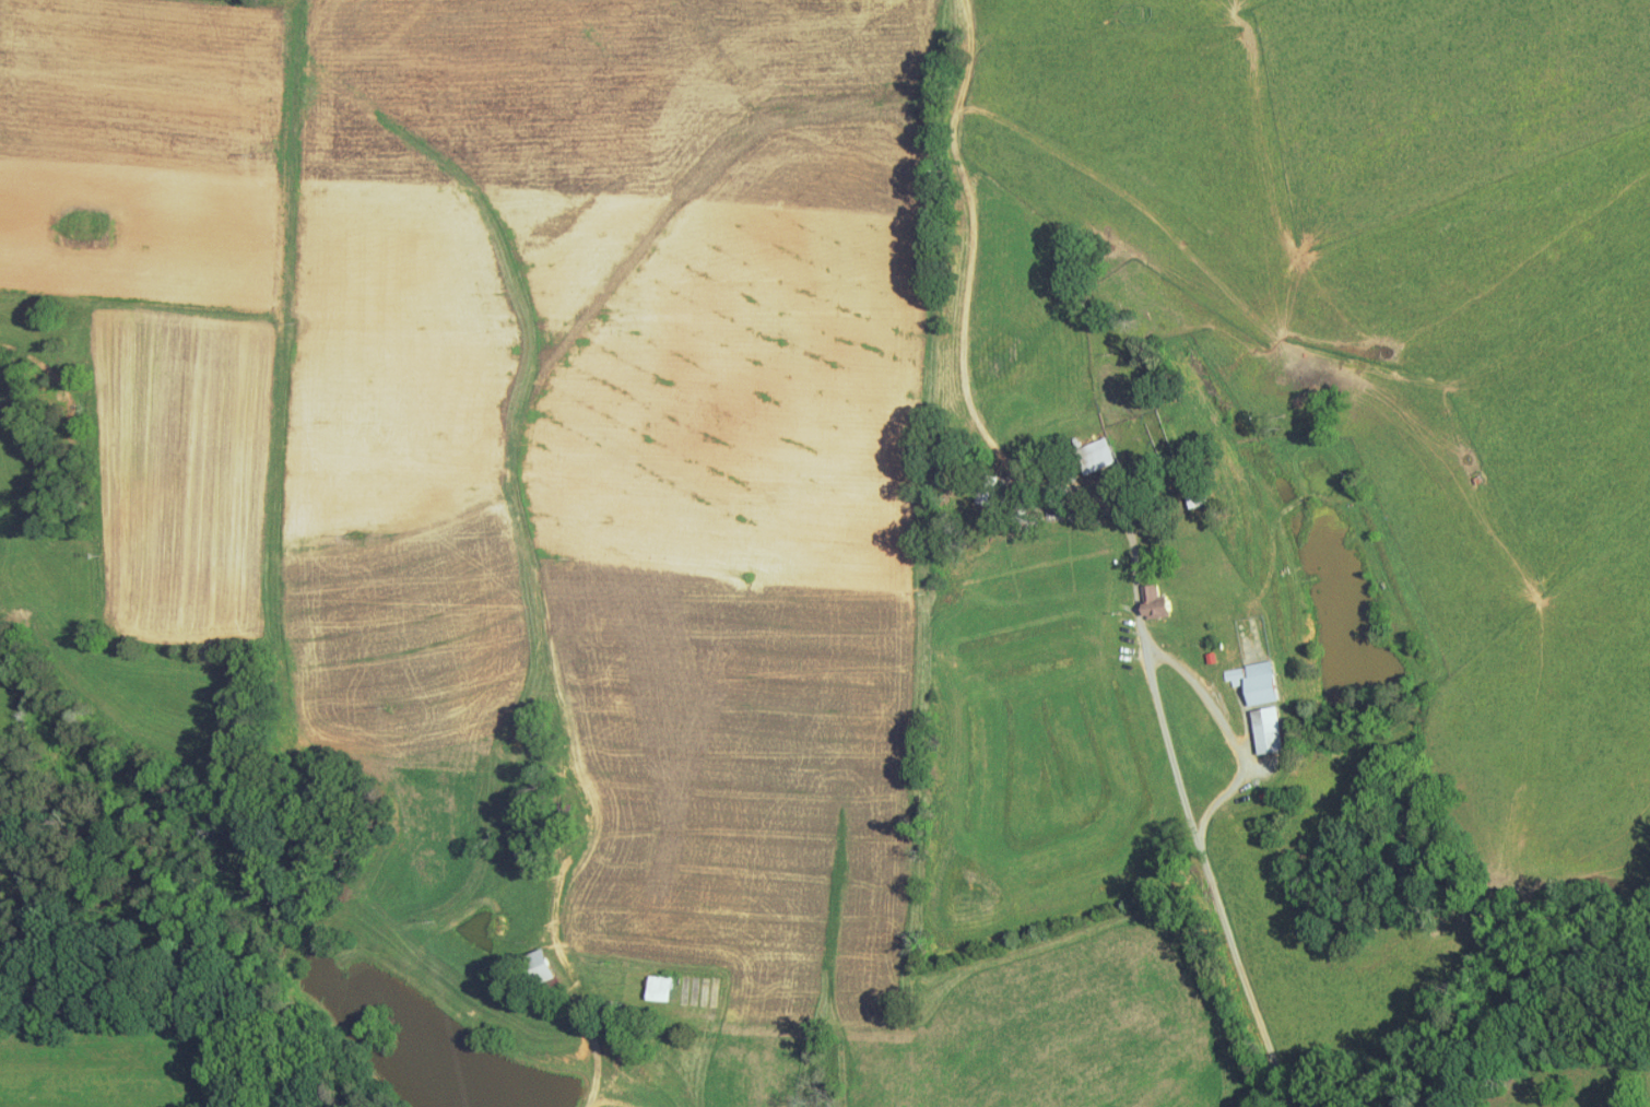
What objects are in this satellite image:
building: (1087, 447)
road: (1123, 516)
building: (1144, 593)
building: (1245, 673)
building: (1258, 721)
building: (531, 956)
building: (649, 979)

